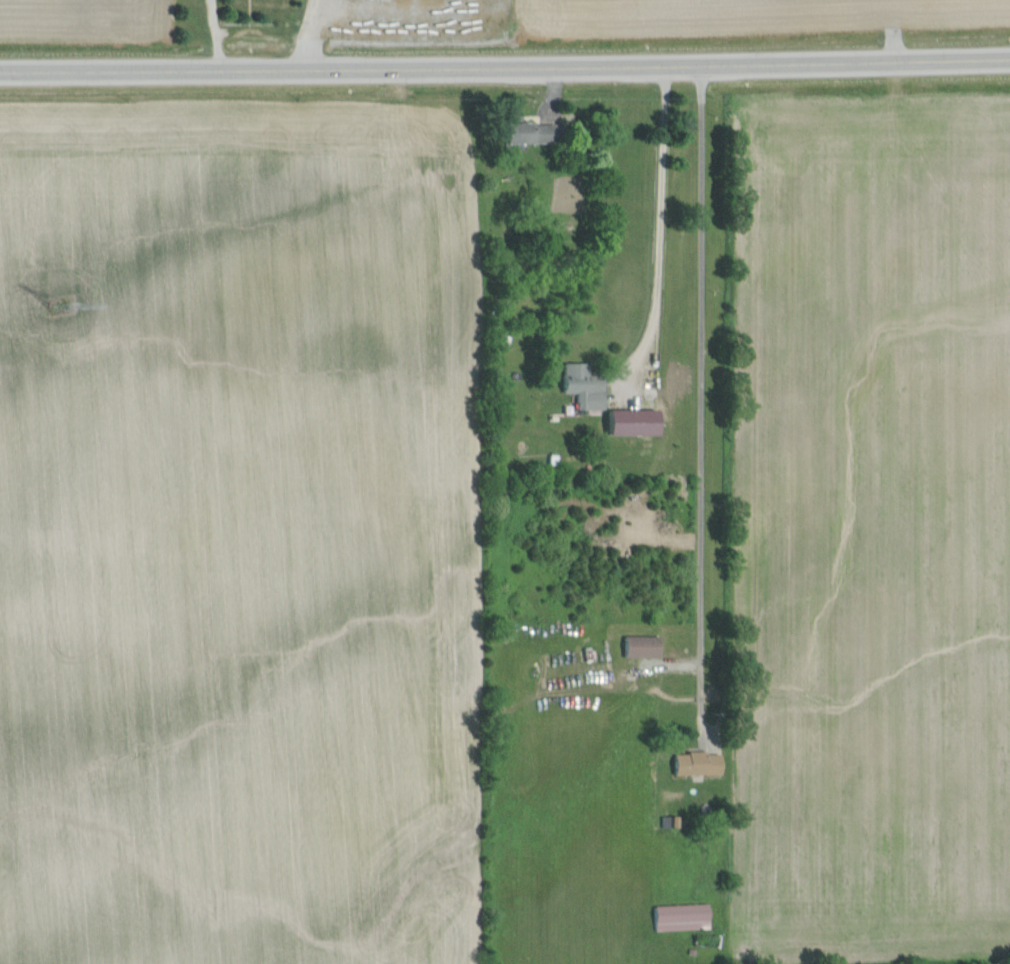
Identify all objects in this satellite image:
road: (216, 34)
road: (309, 35)
road: (505, 65)
building: (530, 132)
road: (655, 230)
power tower: (58, 330)
building: (584, 386)
road: (706, 396)
building: (634, 422)
building: (642, 647)
building: (698, 764)
building: (682, 917)

